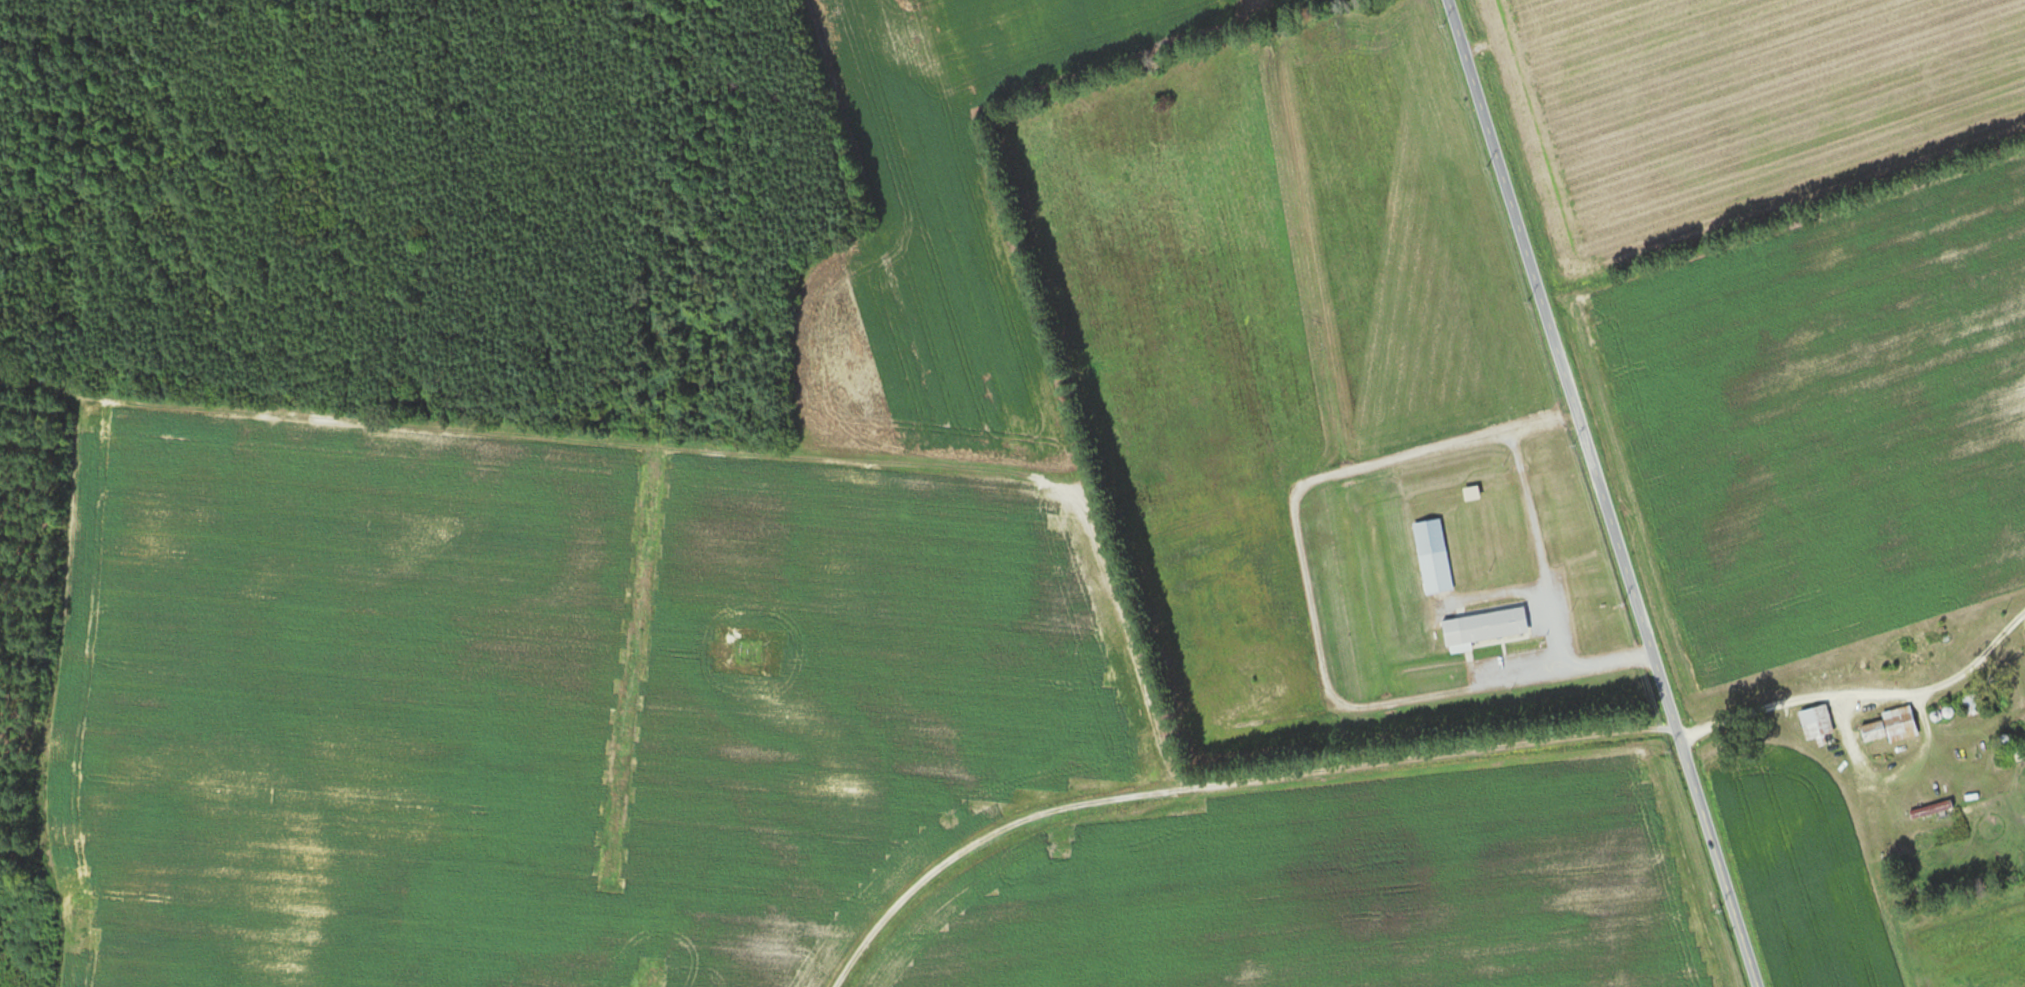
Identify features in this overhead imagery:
road: (1601, 493)
building: (1431, 556)
road: (1530, 564)
building: (1483, 627)
road: (1818, 698)
building: (1815, 724)
building: (1890, 726)
building: (2019, 752)
road: (1863, 794)
road: (1103, 809)
building: (1929, 810)

